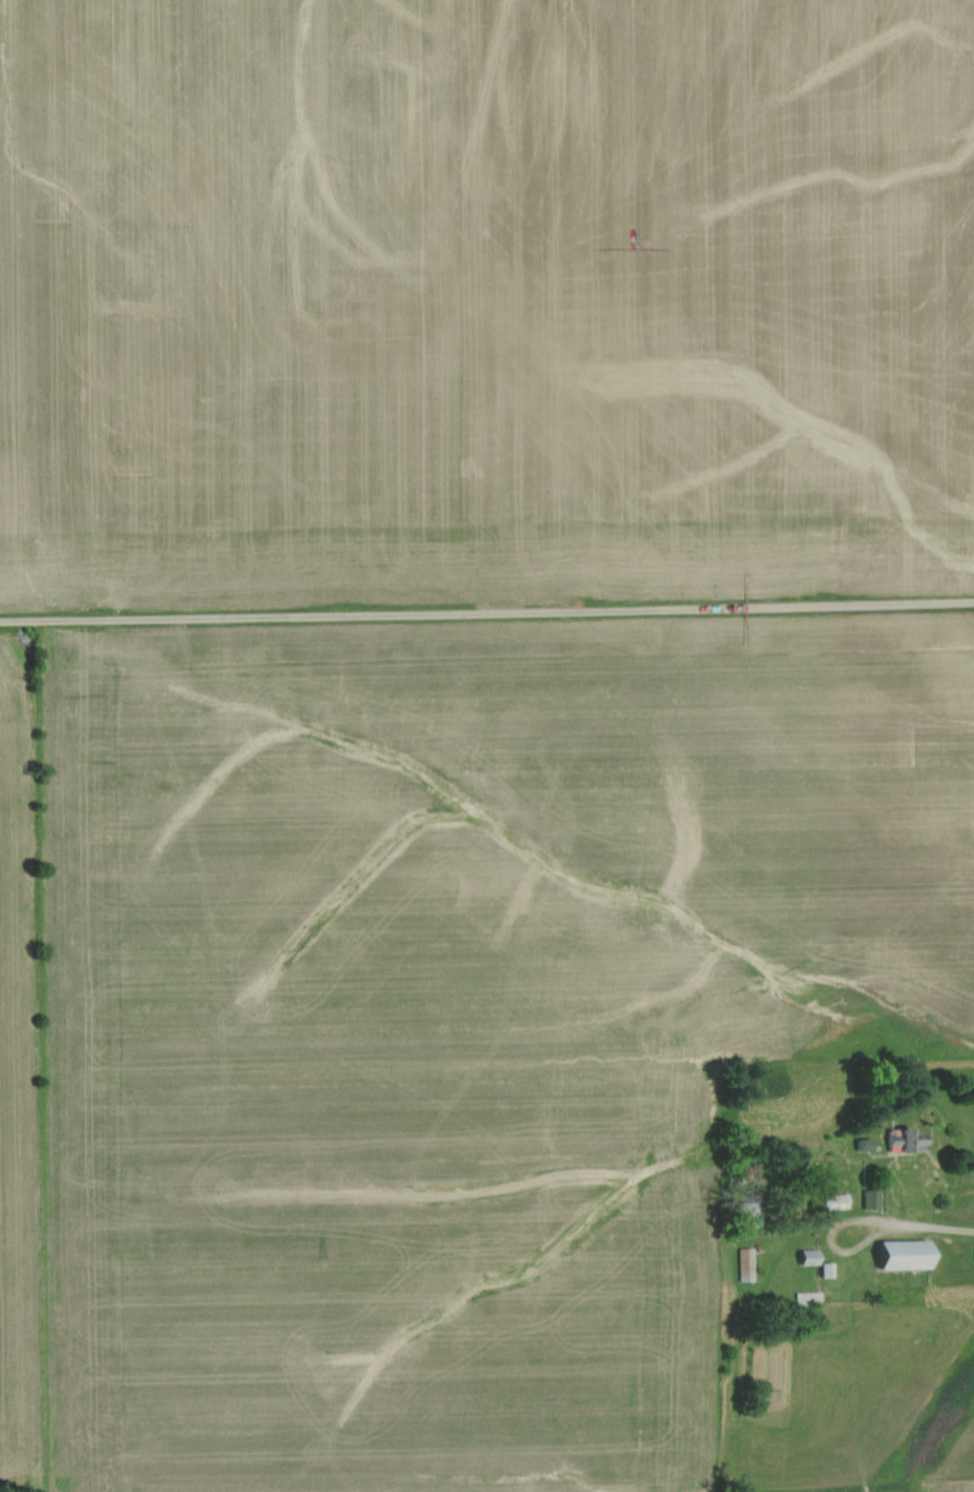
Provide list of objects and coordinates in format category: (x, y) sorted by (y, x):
road: (487, 613)
building: (904, 1142)
building: (834, 1202)
road: (942, 1230)
building: (897, 1256)
building: (744, 1265)

